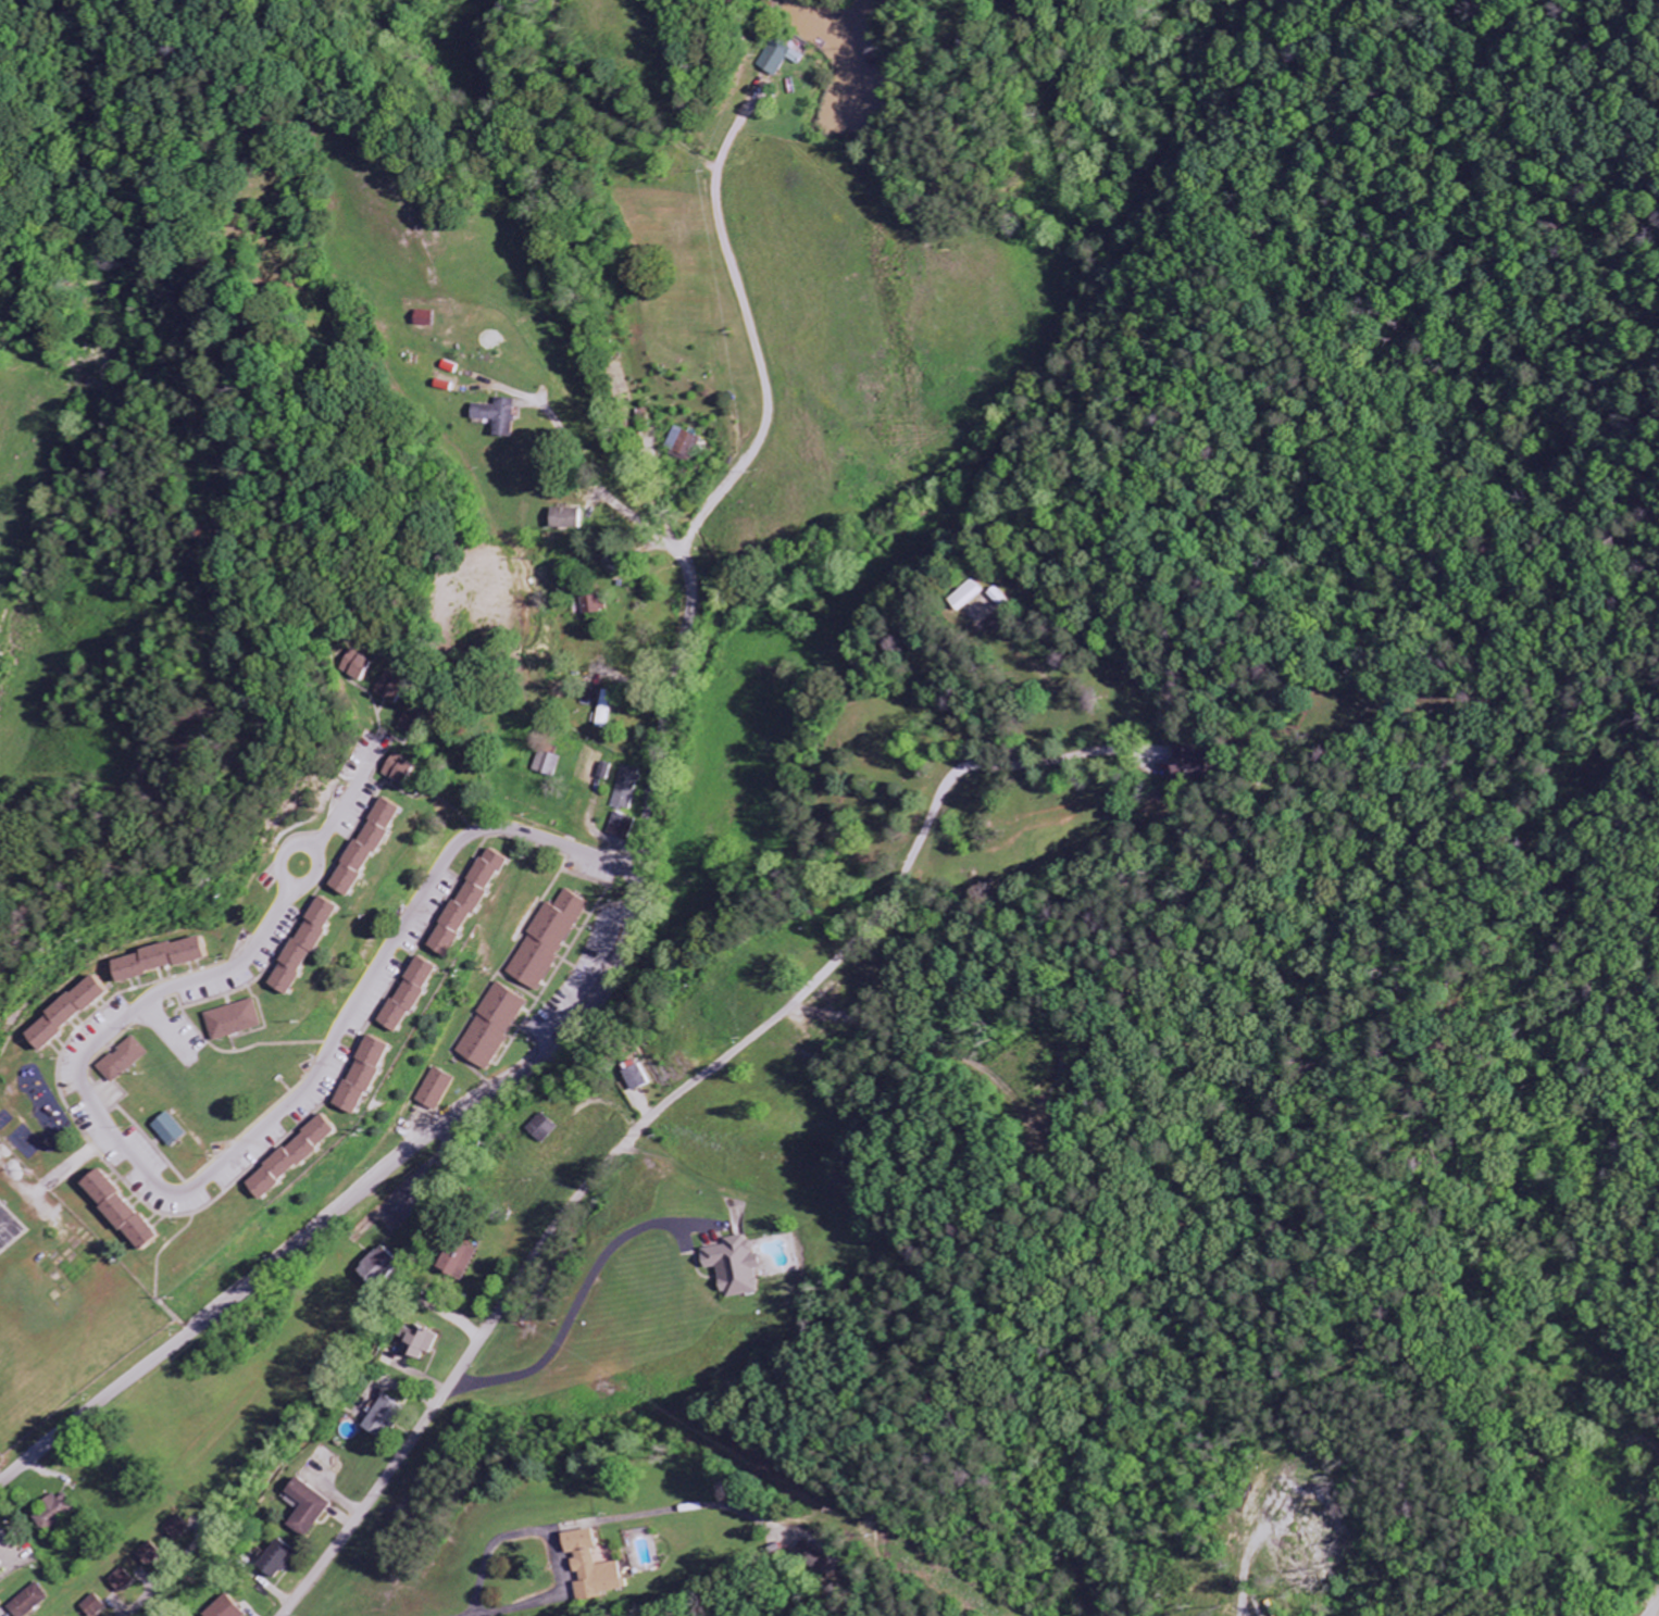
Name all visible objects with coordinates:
building: (778, 59)
building: (424, 320)
road: (752, 337)
building: (496, 417)
building: (682, 446)
road: (591, 484)
building: (566, 519)
building: (592, 605)
building: (358, 667)
building: (390, 689)
road: (665, 709)
building: (603, 710)
building: (411, 719)
building: (546, 763)
building: (1187, 763)
building: (397, 769)
building: (604, 772)
building: (625, 788)
road: (352, 792)
building: (620, 826)
building: (363, 848)
road: (613, 864)
road: (317, 875)
building: (464, 903)
building: (544, 941)
building: (302, 947)
building: (158, 959)
building: (407, 995)
building: (64, 1013)
building: (232, 1020)
building: (489, 1027)
road: (652, 1034)
road: (604, 1045)
building: (123, 1061)
building: (635, 1075)
building: (361, 1076)
building: (434, 1090)
building: (541, 1129)
building: (166, 1130)
building: (291, 1158)
road: (208, 1180)
road: (355, 1201)
building: (116, 1211)
building: (456, 1262)
building: (376, 1267)
building: (732, 1267)
road: (520, 1288)
road: (582, 1308)
building: (415, 1343)
road: (1537, 1346)
road: (39, 1401)
building: (383, 1418)
building: (307, 1508)
building: (55, 1513)
building: (176, 1529)
road: (501, 1545)
building: (148, 1555)
building: (813, 1558)
building: (275, 1559)
building: (591, 1567)
road: (165, 1577)
building: (122, 1581)
building: (28, 1602)
building: (95, 1606)
road: (1651, 1607)
building: (224, 1608)

